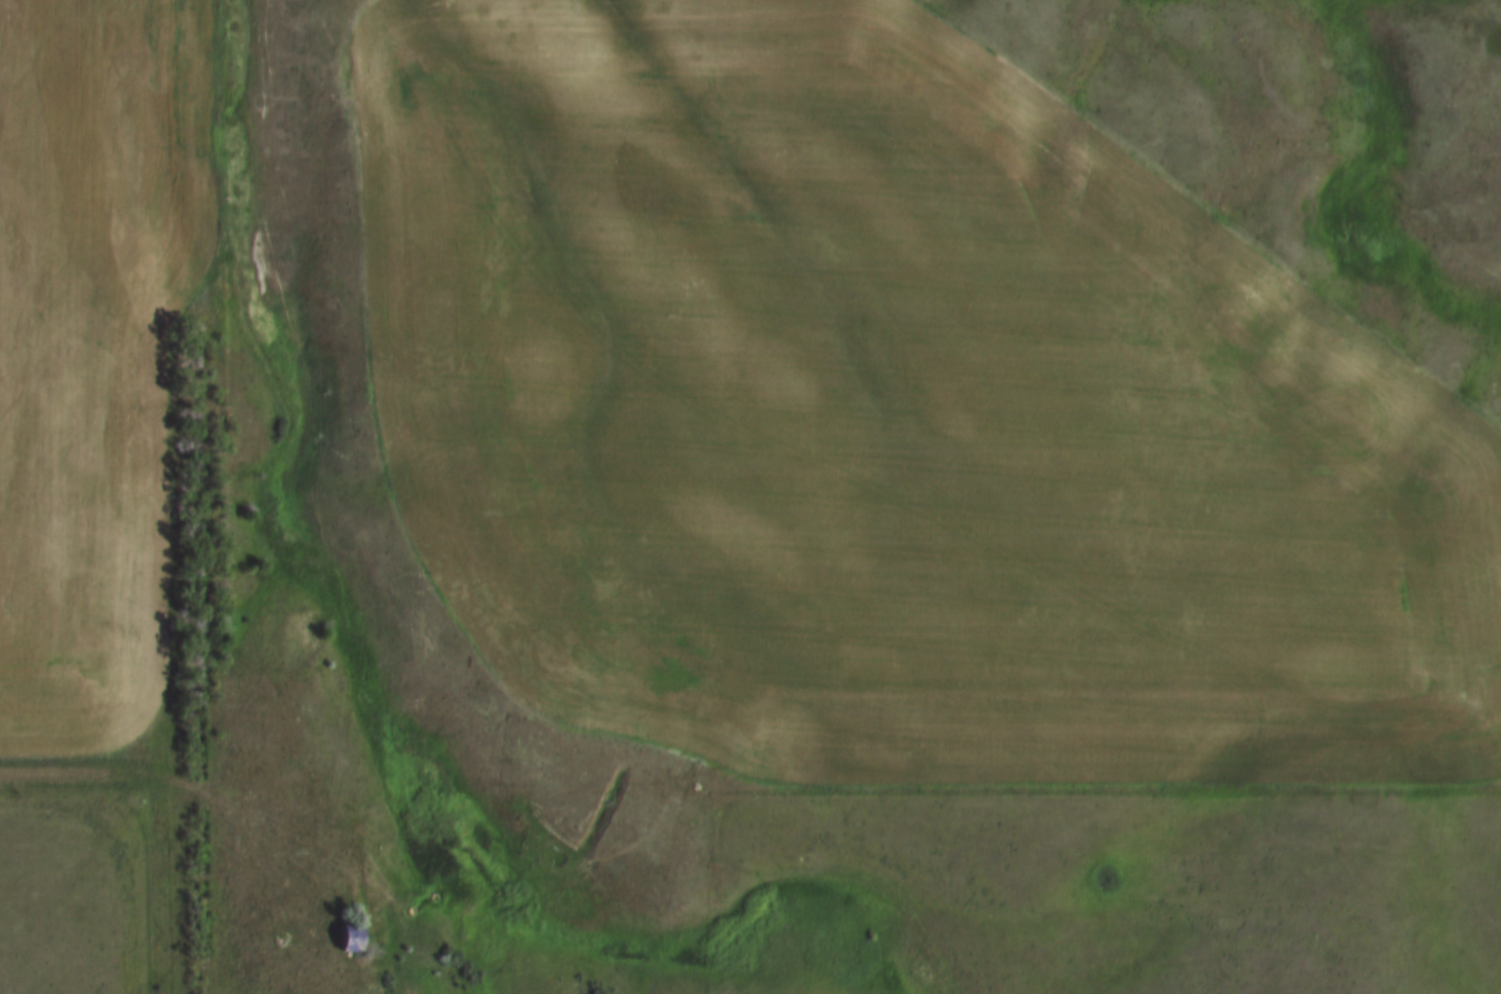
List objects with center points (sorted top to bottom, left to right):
road: (198, 788)
building: (356, 938)

